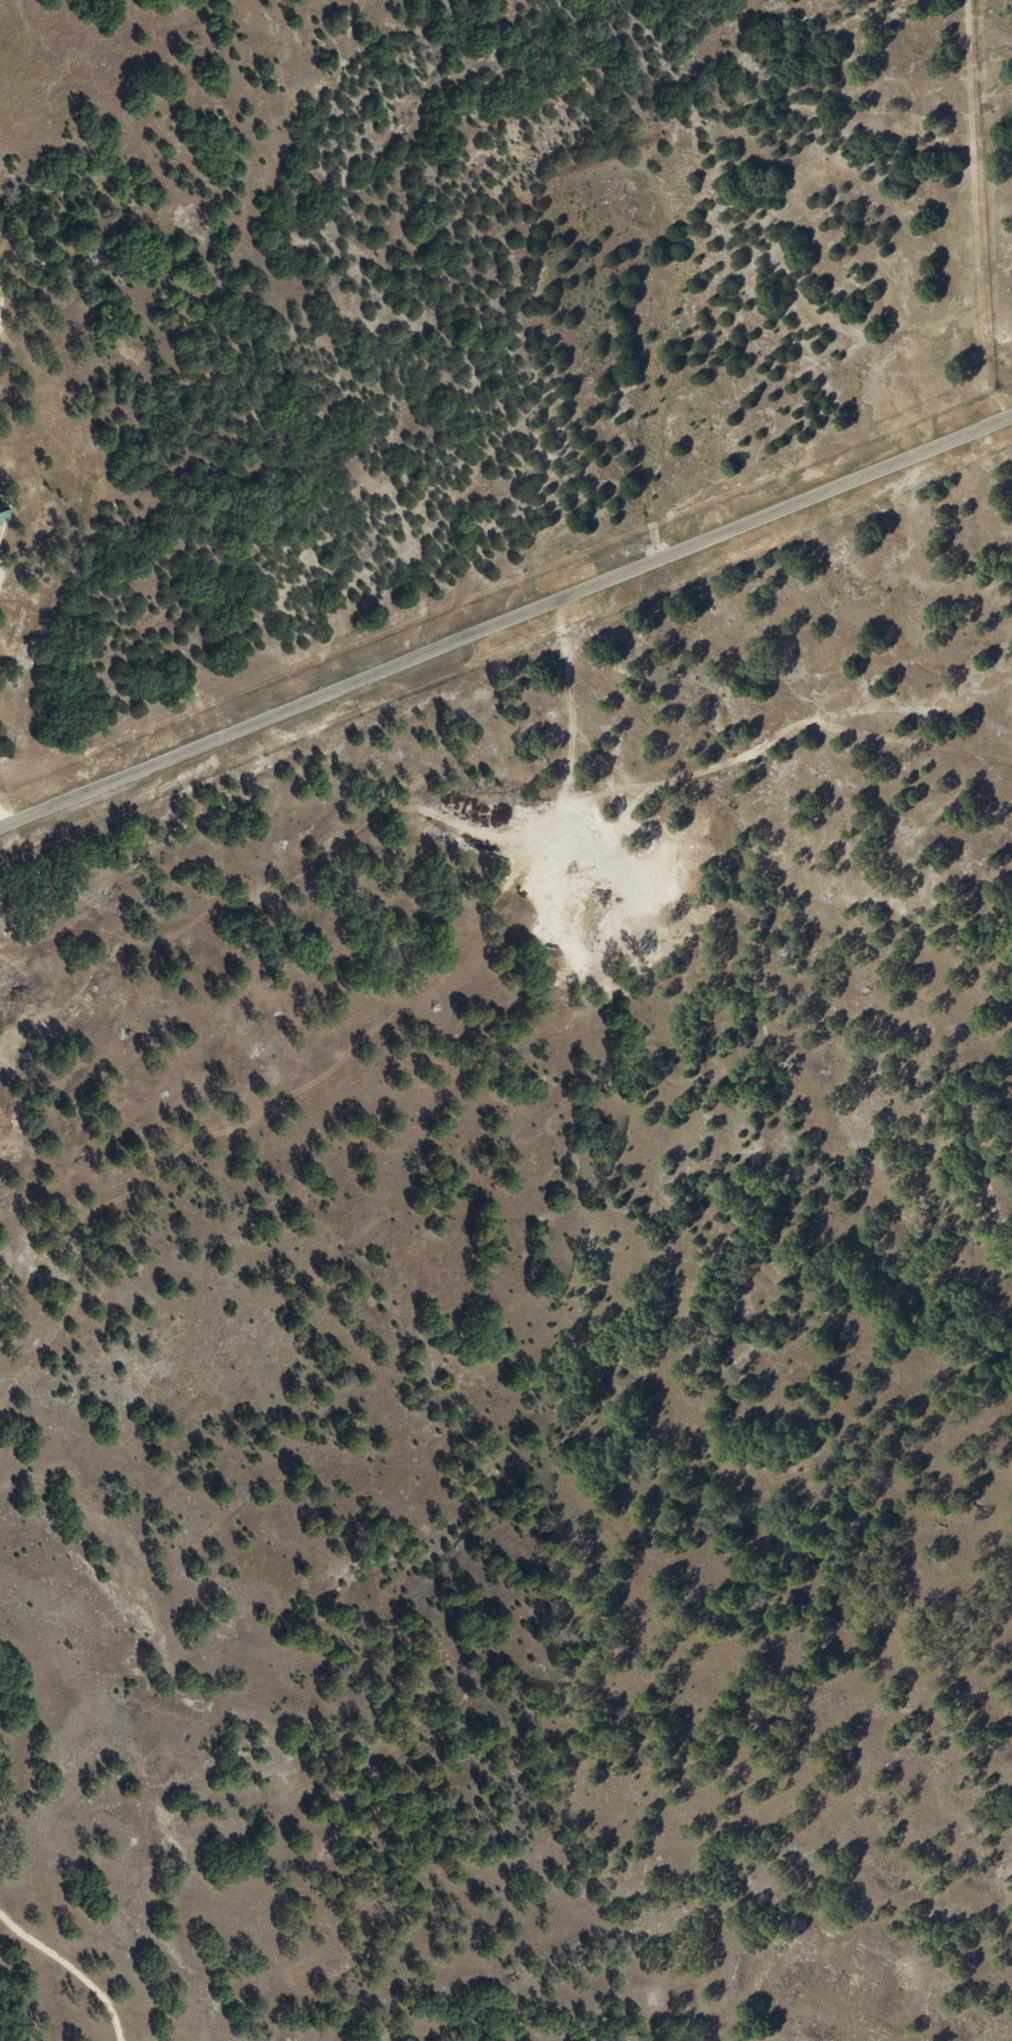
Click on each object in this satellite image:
road: (981, 214)
road: (505, 627)

